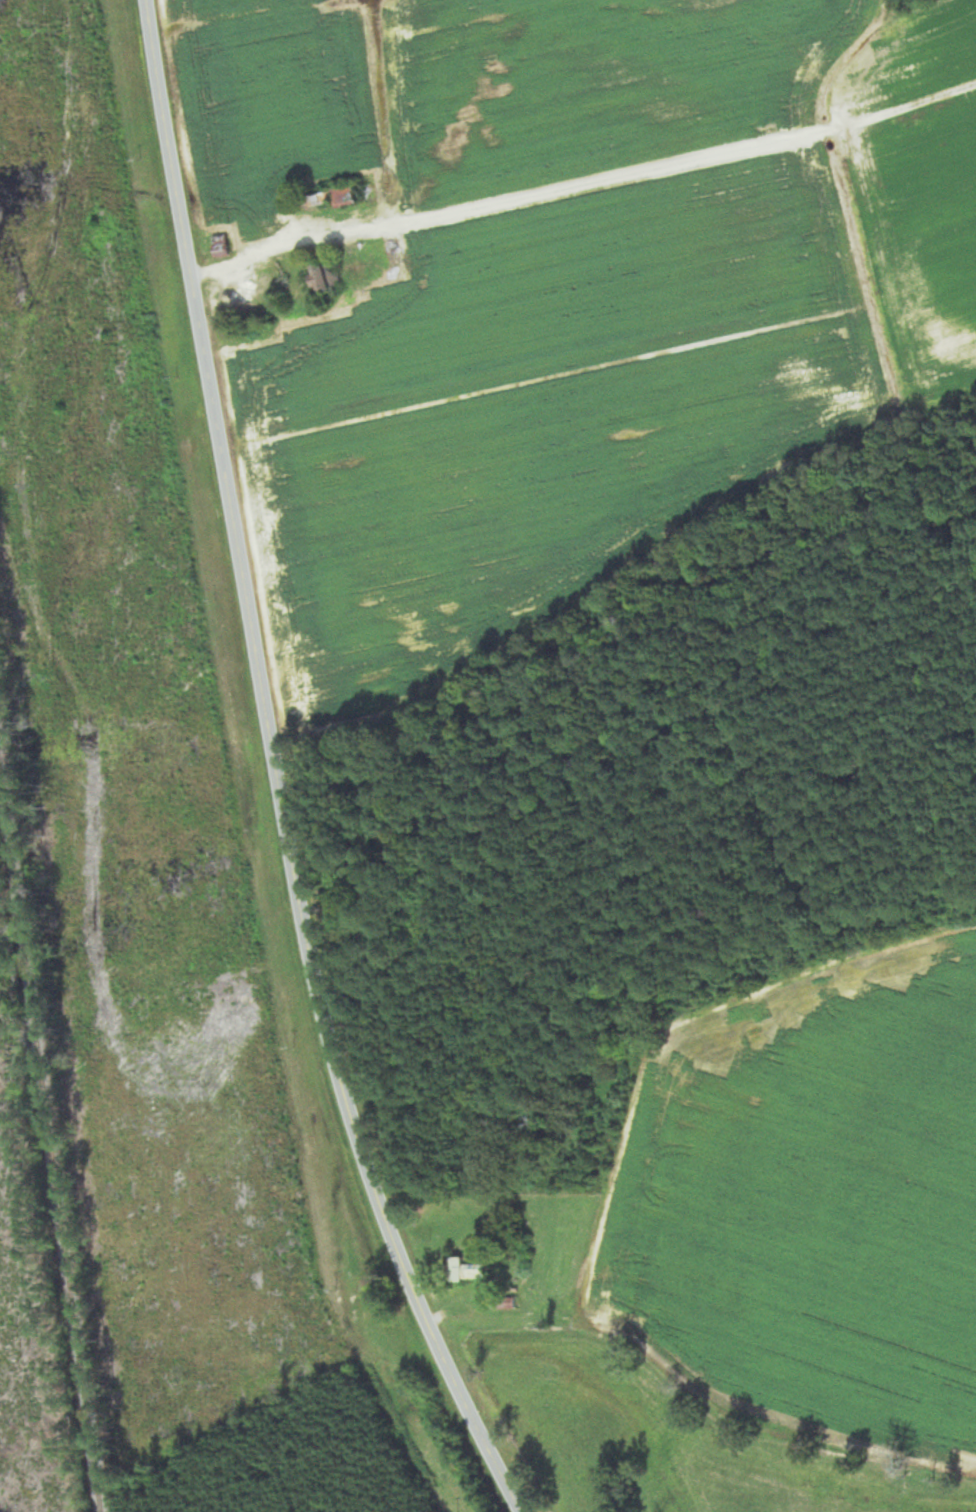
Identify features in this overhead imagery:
road: (584, 185)
road: (276, 772)
railway: (49, 1148)
road: (696, 1392)

